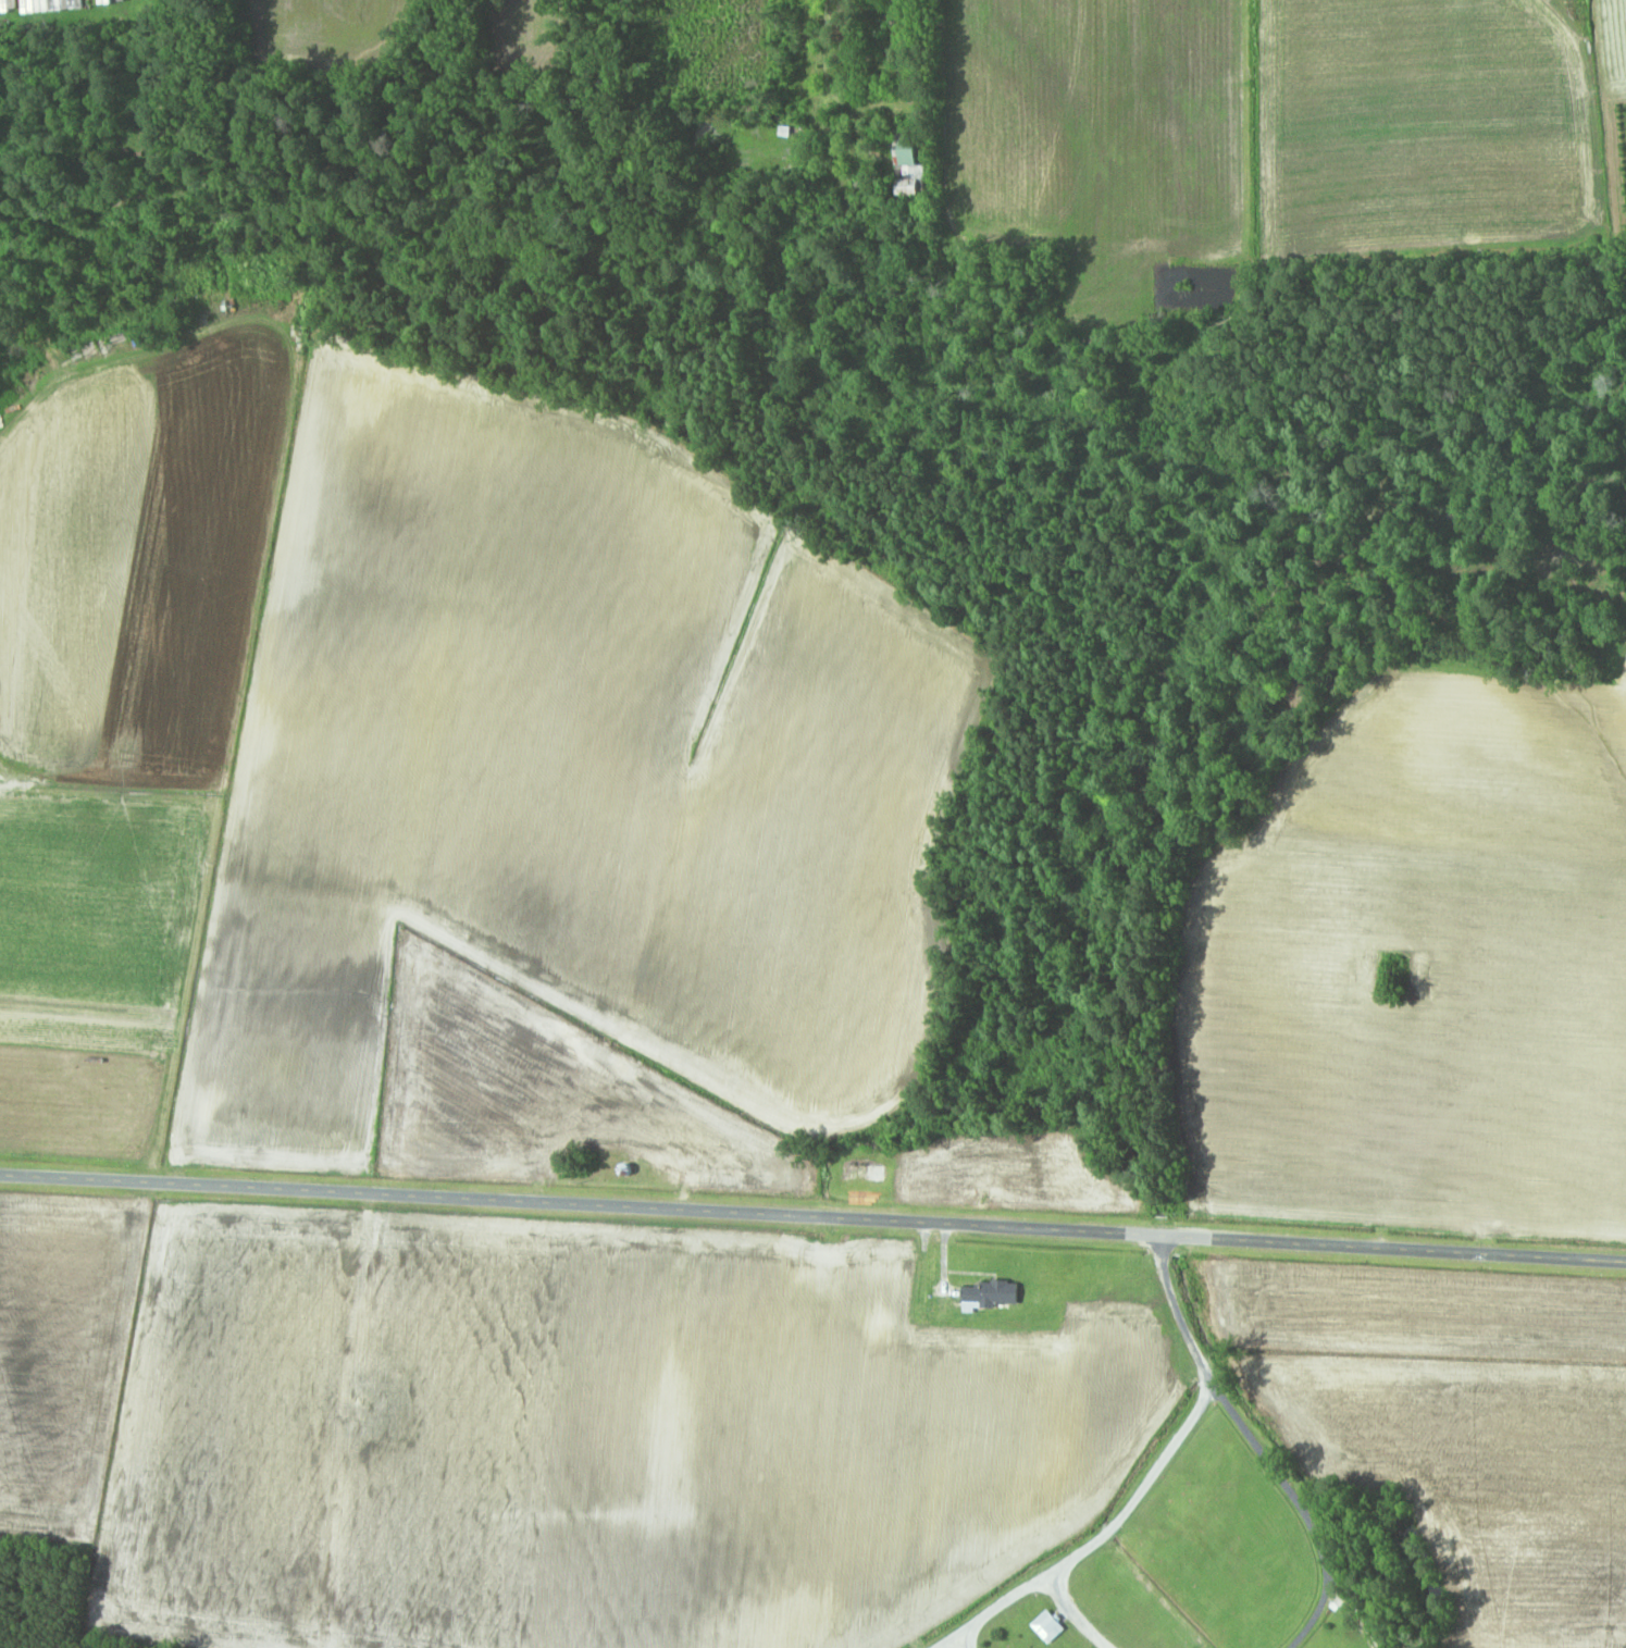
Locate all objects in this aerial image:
building: (910, 150)
building: (864, 1173)
road: (812, 1216)
building: (1485, 1228)
building: (803, 1272)
building: (990, 1294)
building: (1048, 1626)

